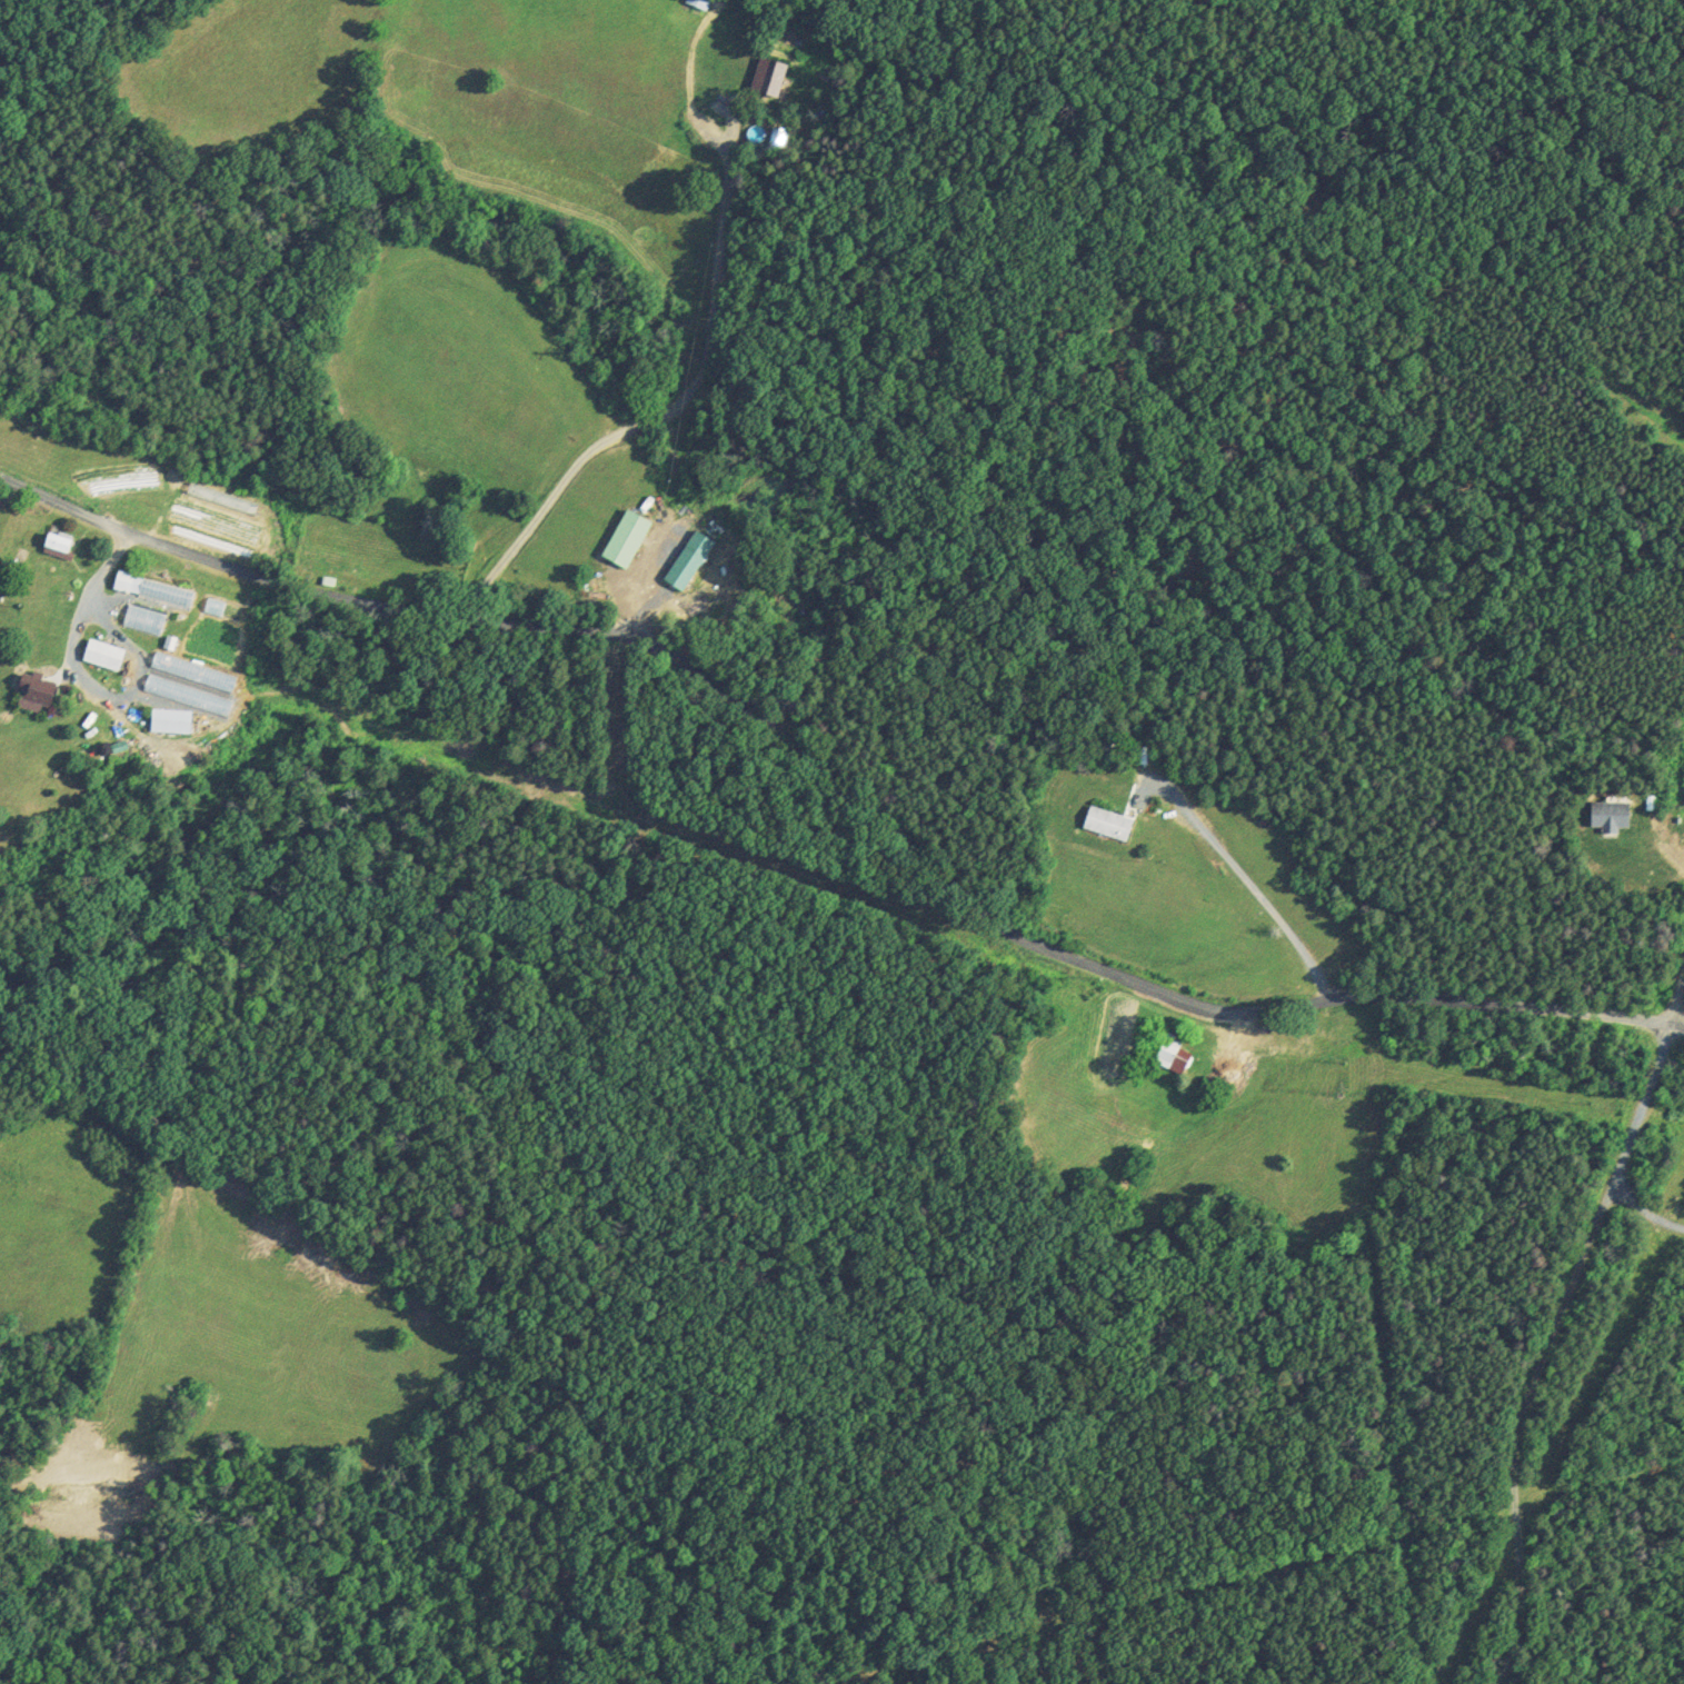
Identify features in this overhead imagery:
building: (699, 3)
building: (768, 76)
building: (221, 498)
building: (626, 537)
building: (57, 544)
building: (688, 559)
building: (153, 589)
building: (143, 619)
building: (103, 654)
building: (193, 671)
building: (34, 694)
building: (171, 720)
road: (838, 788)
building: (1611, 816)
building: (1108, 823)
building: (1173, 1054)

